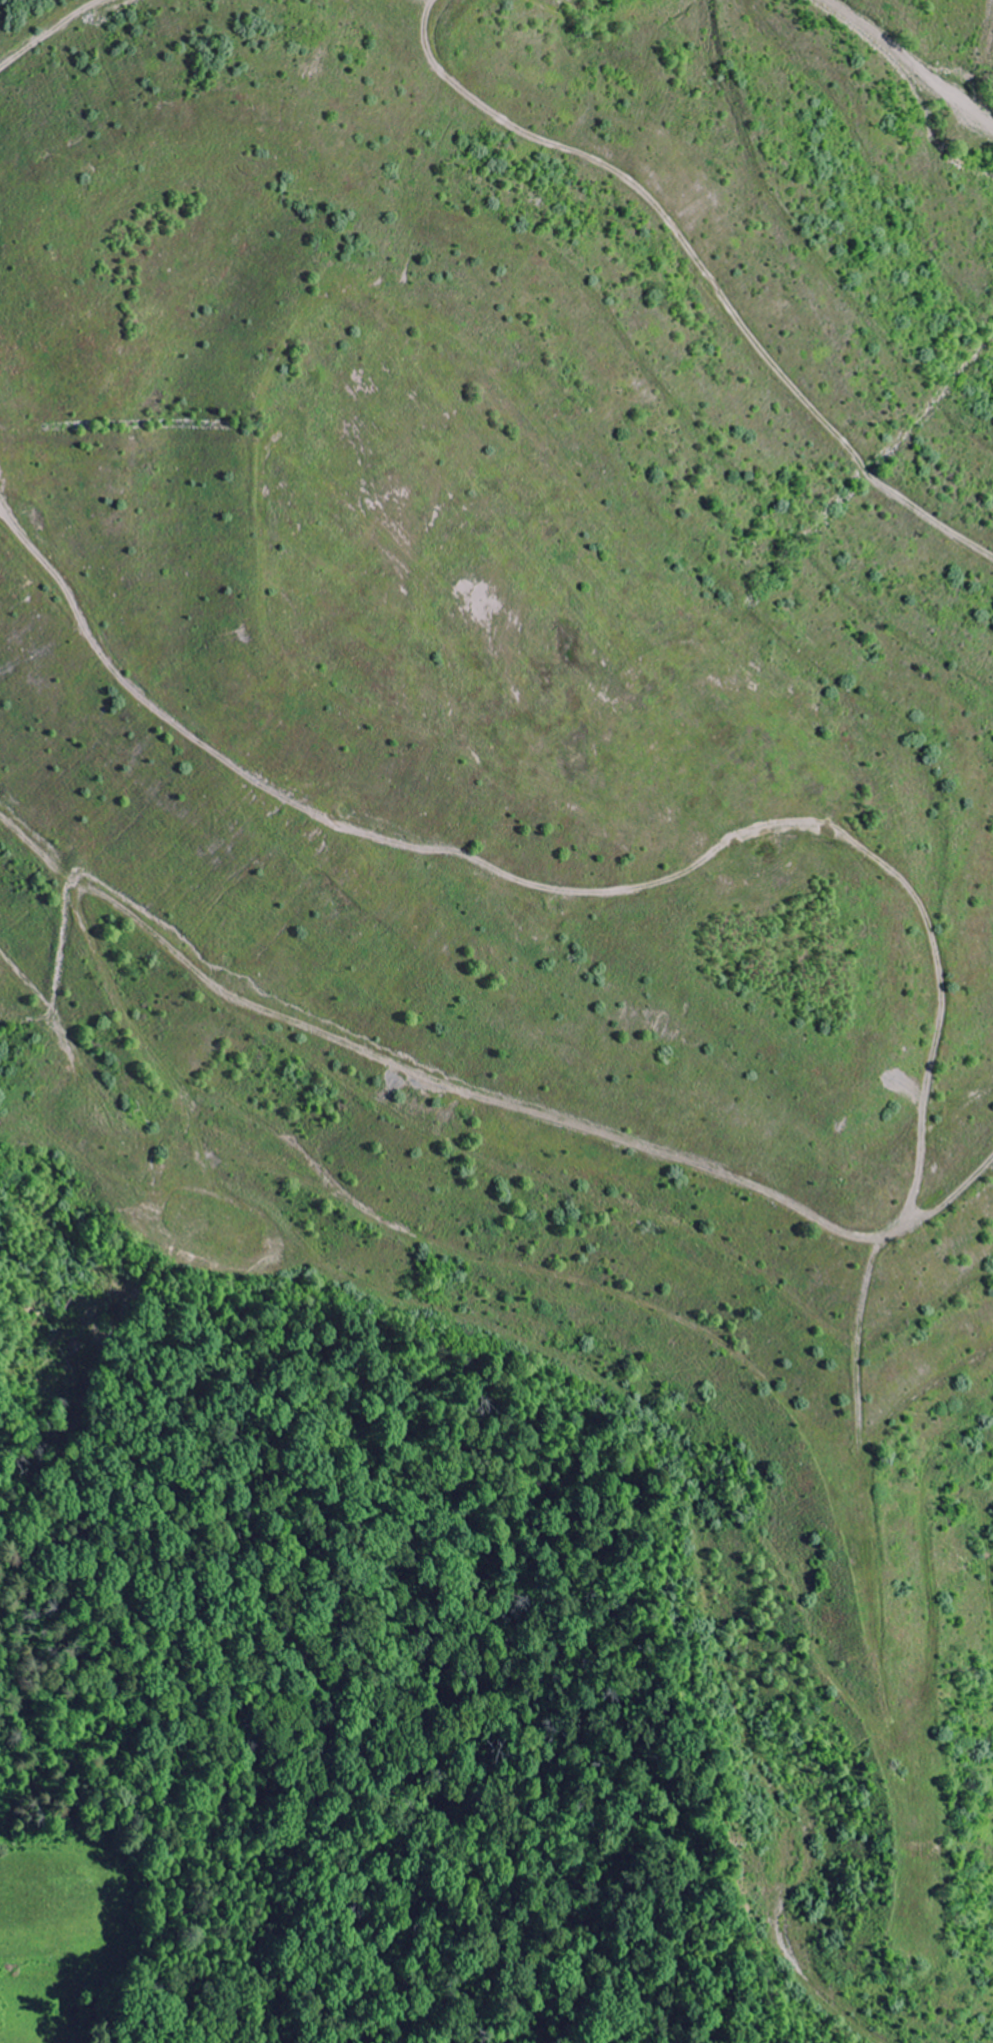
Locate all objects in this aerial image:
quarry: (522, 899)

